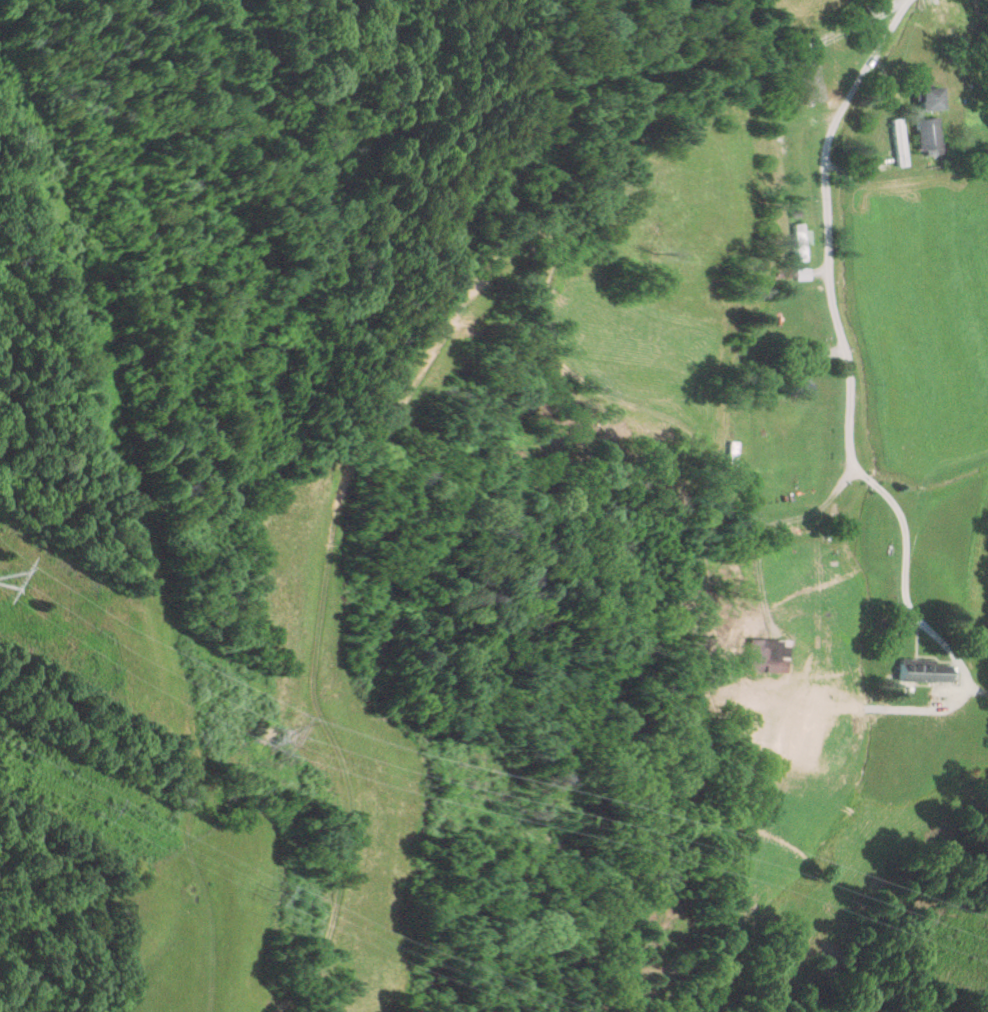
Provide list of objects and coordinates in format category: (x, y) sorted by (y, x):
building: (944, 12)
building: (810, 80)
building: (932, 98)
building: (930, 140)
building: (900, 141)
building: (795, 174)
road: (827, 222)
building: (801, 242)
building: (803, 274)
building: (801, 388)
building: (732, 454)
building: (925, 671)
power tower: (263, 735)

